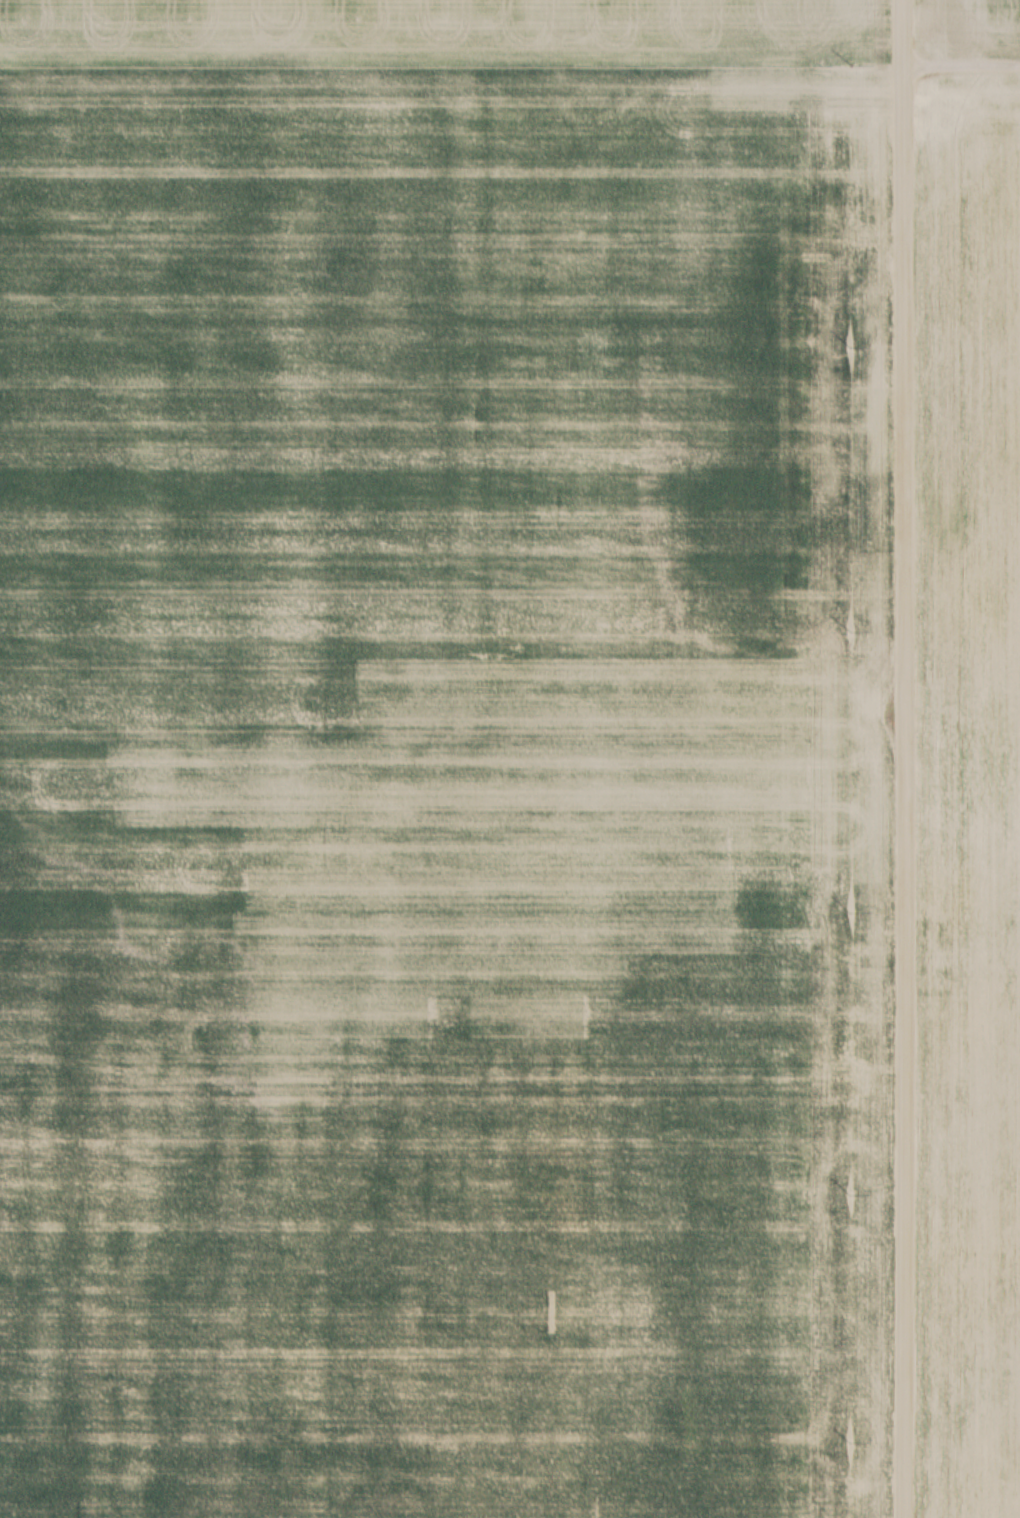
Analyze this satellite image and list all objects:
road: (963, 69)
road: (904, 759)

